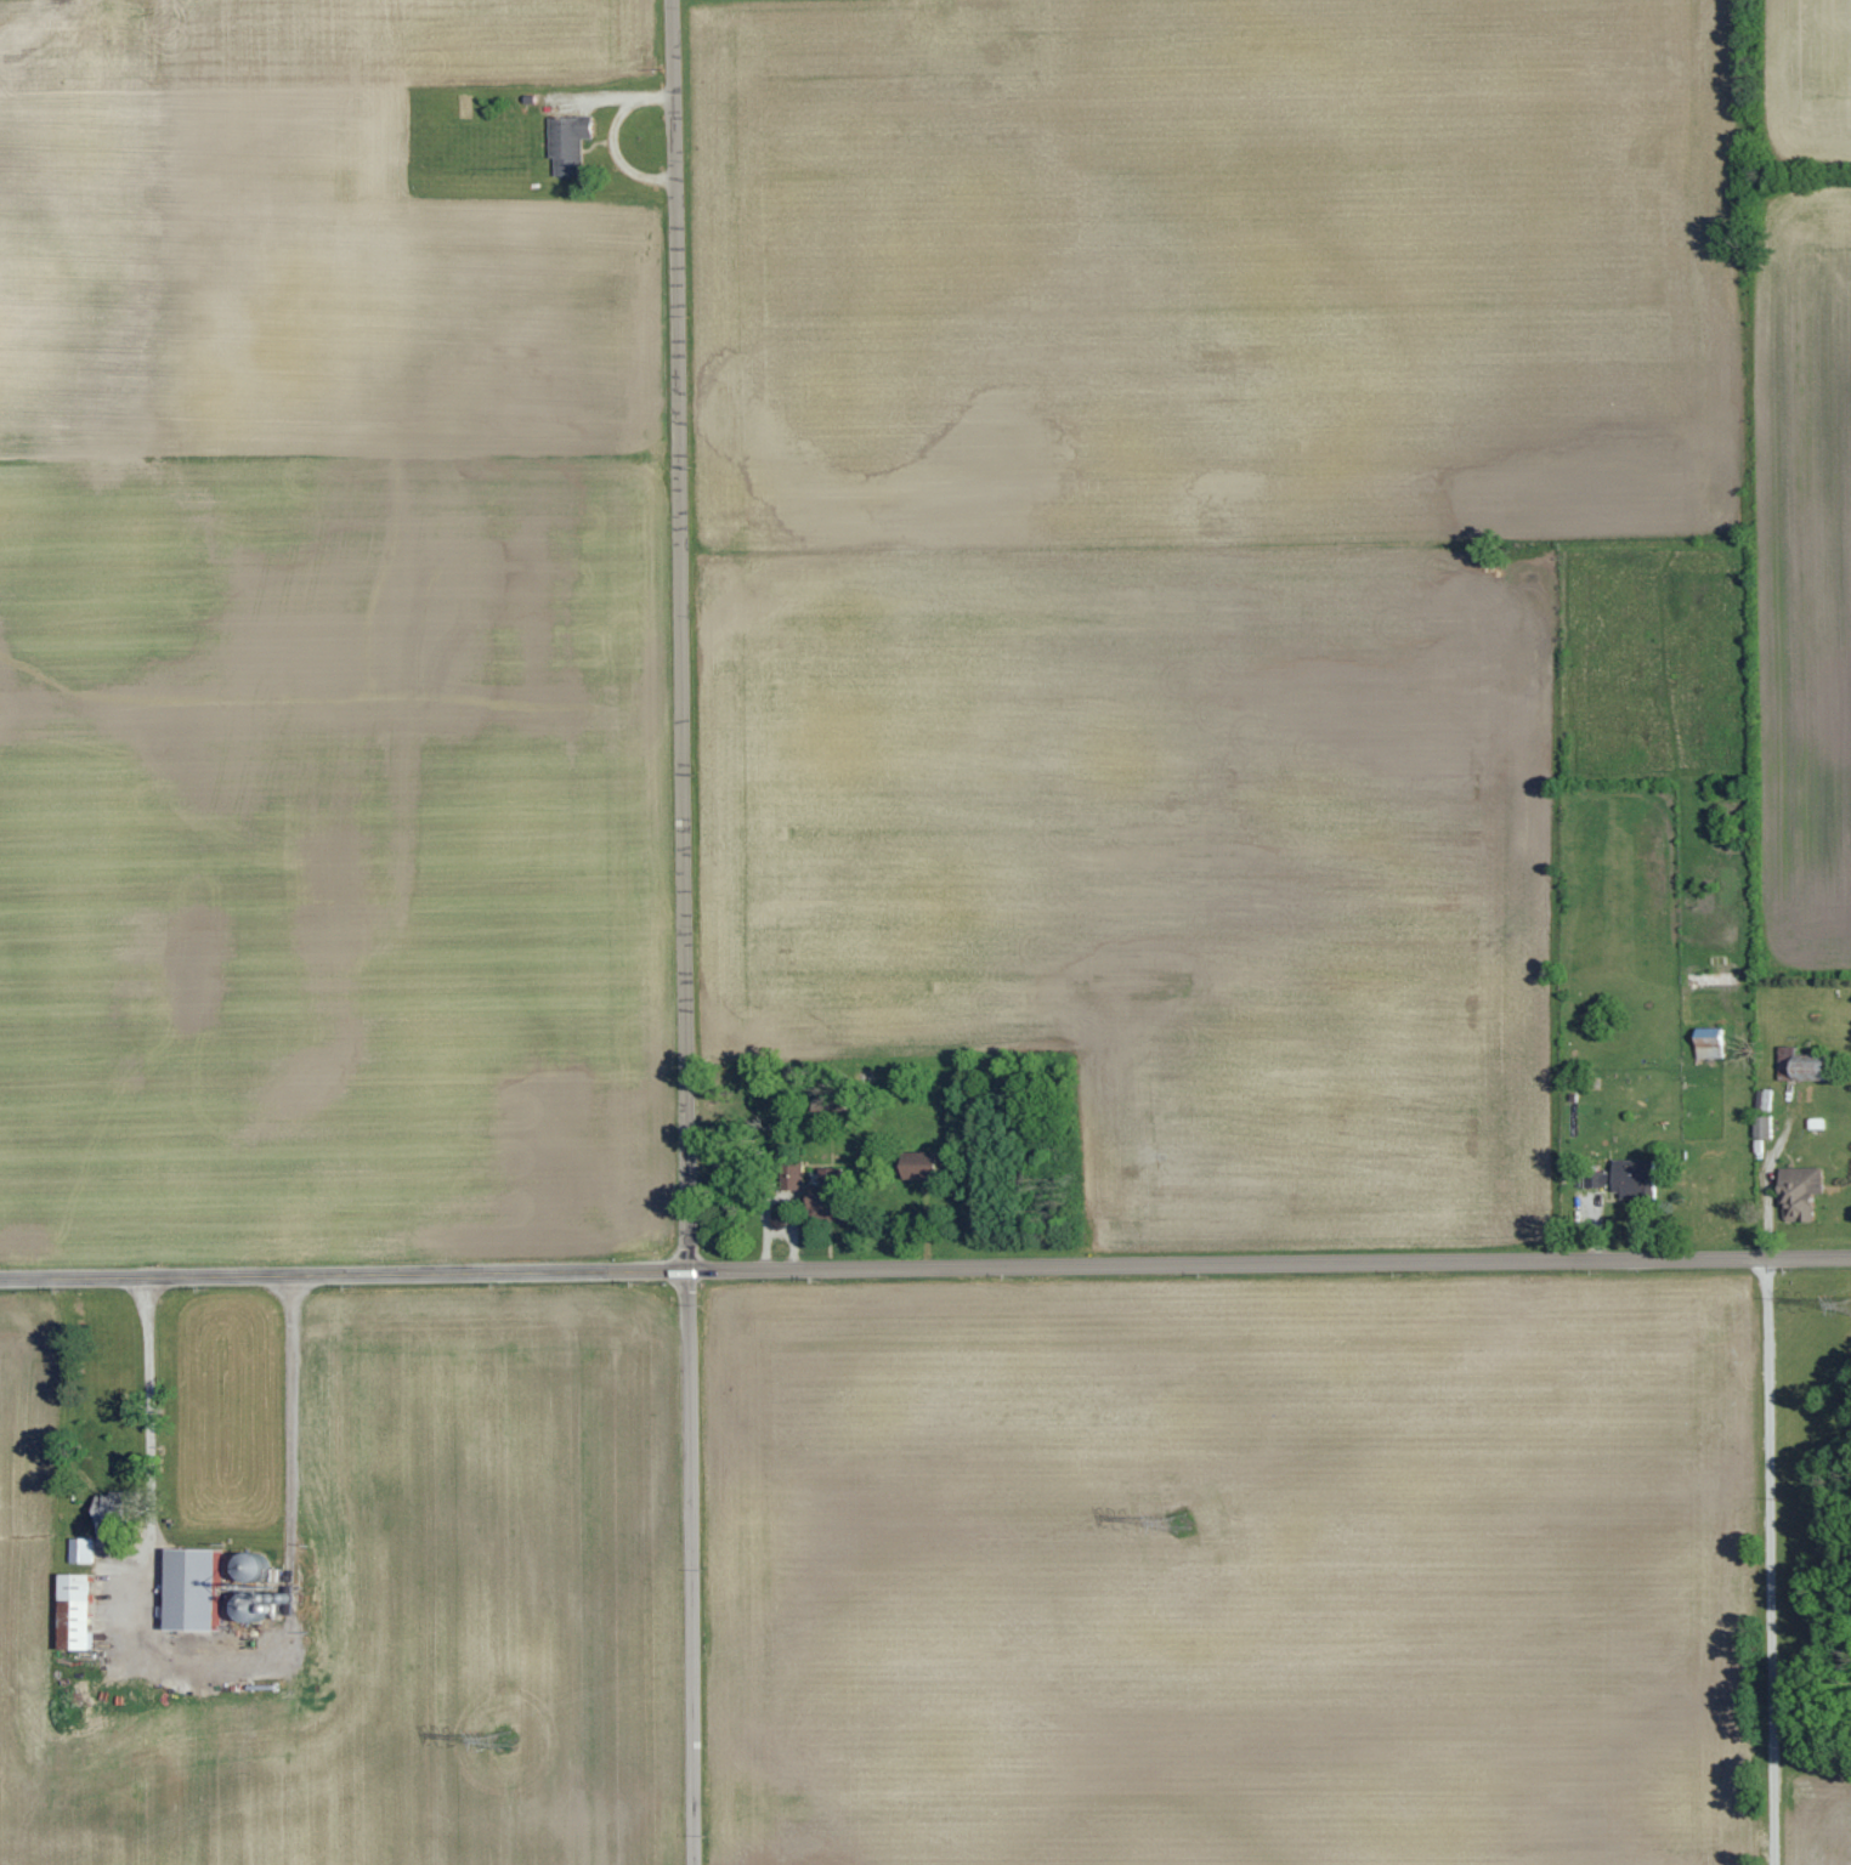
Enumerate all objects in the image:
road: (595, 98)
road: (616, 137)
building: (566, 143)
road: (685, 931)
building: (1706, 1047)
building: (1796, 1067)
building: (917, 1166)
building: (1629, 1179)
road: (1767, 1189)
building: (1796, 1192)
road: (779, 1195)
road: (779, 1231)
road: (924, 1265)
power tower: (1178, 1523)
building: (80, 1549)
road: (1770, 1560)
building: (187, 1587)
building: (72, 1608)
road: (223, 1653)
power tower: (504, 1740)

